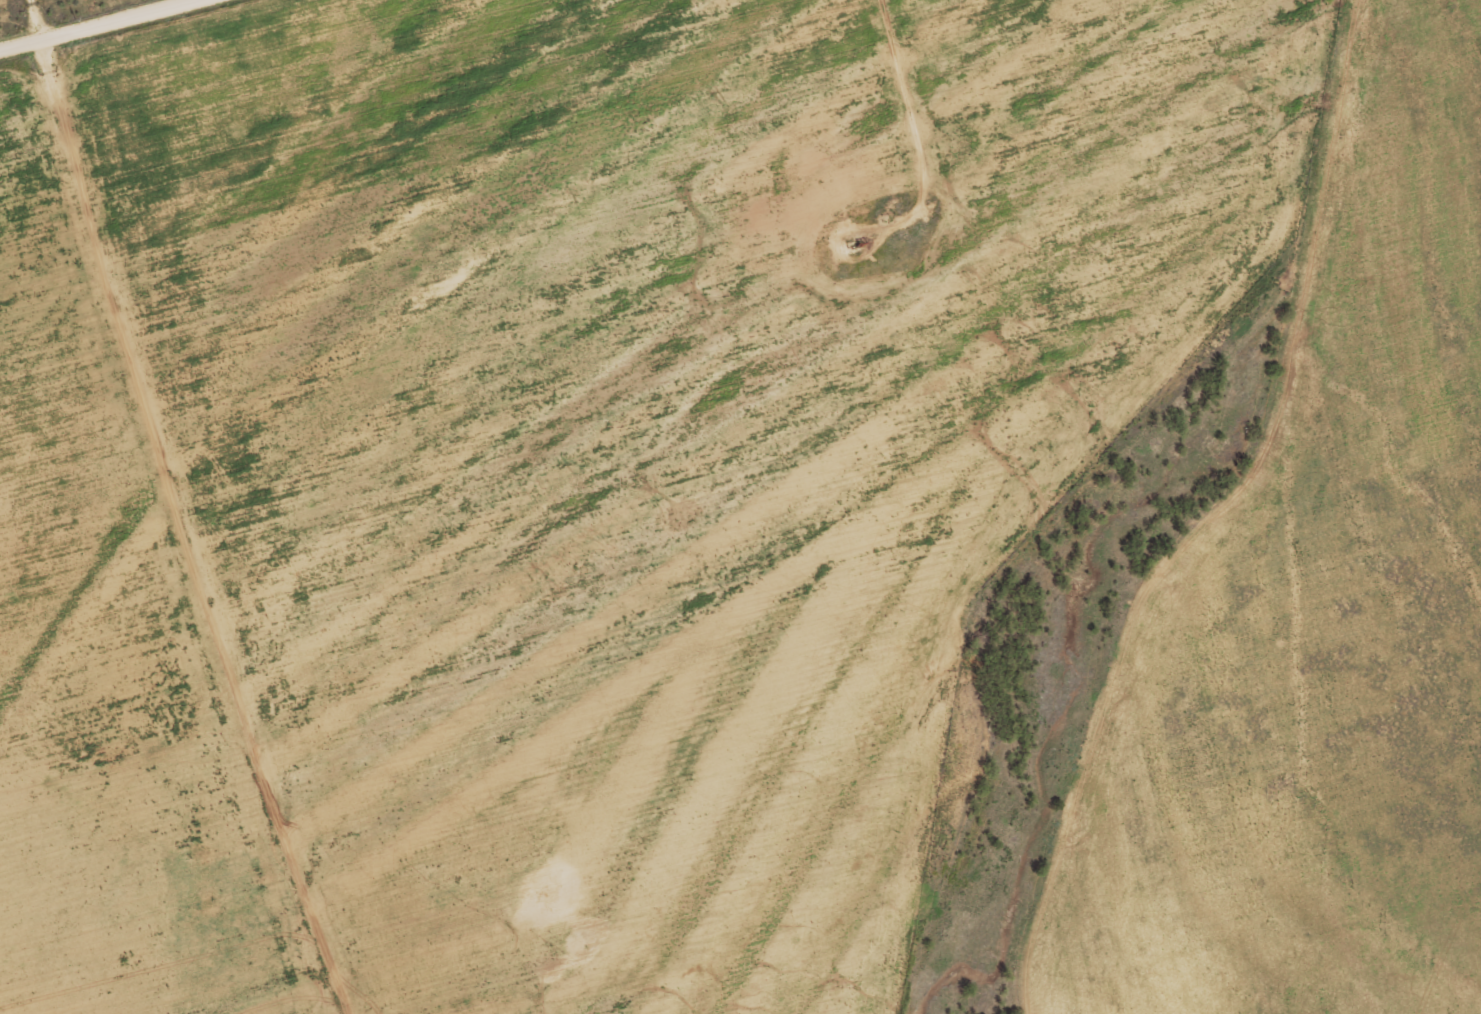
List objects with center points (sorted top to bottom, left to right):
road: (157, 41)
road: (161, 506)

